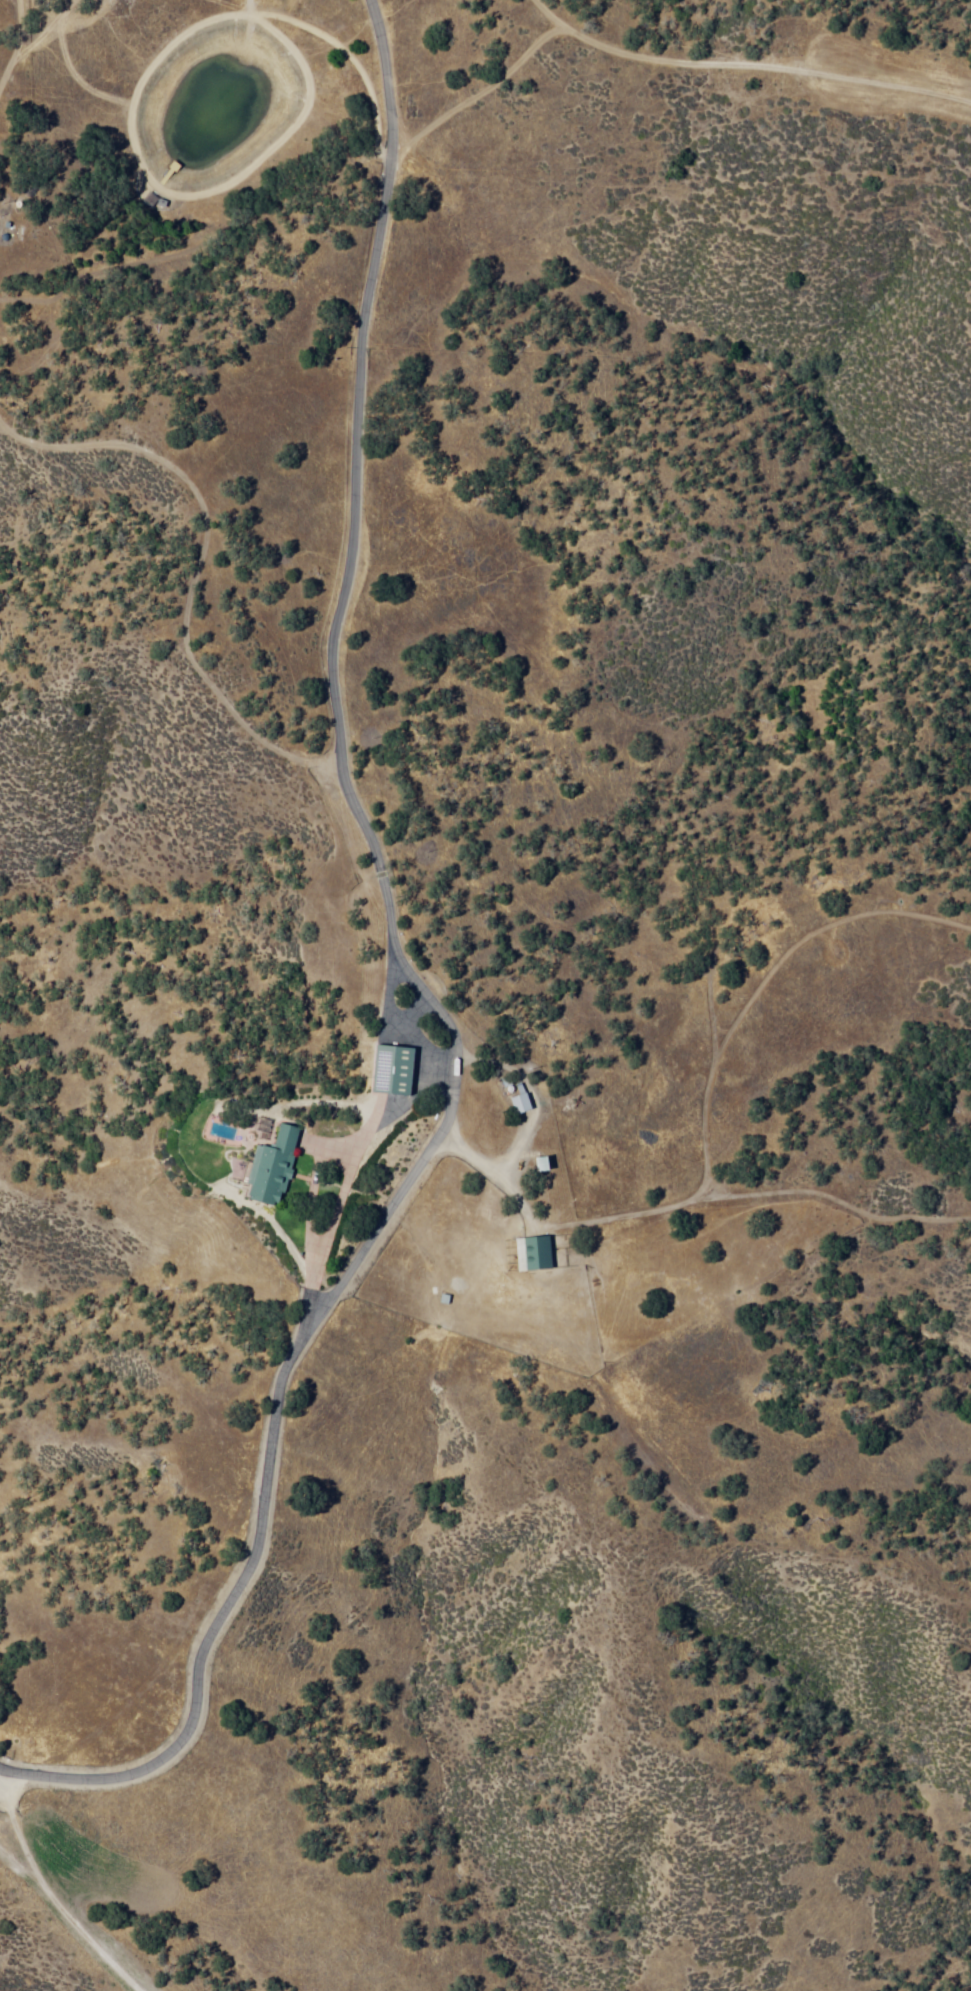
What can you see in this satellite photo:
road: (19, 45)
road: (363, 383)
road: (191, 569)
road: (363, 820)
building: (396, 1073)
building: (460, 1080)
building: (524, 1106)
road: (705, 1115)
building: (275, 1169)
building: (537, 1257)
road: (282, 1382)
road: (17, 1829)
road: (70, 1918)

